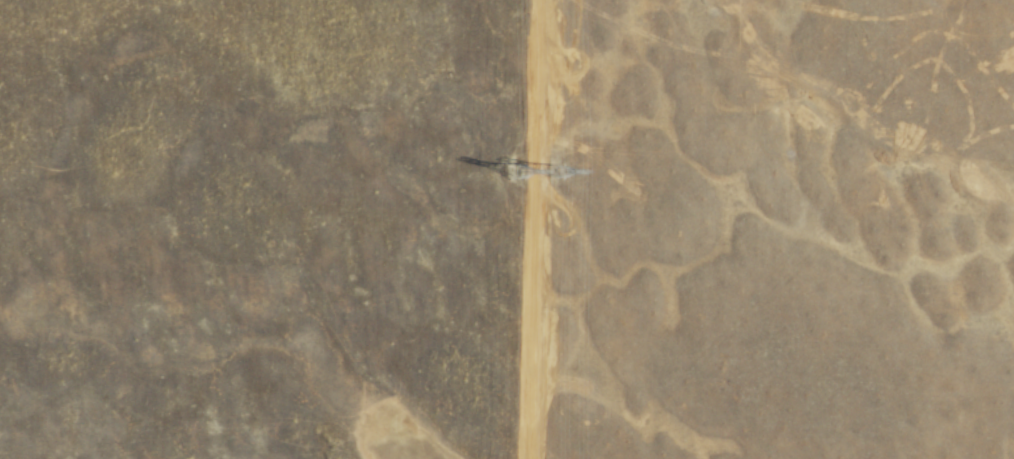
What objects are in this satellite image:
power tower: (553, 171)
power tower: (516, 172)

